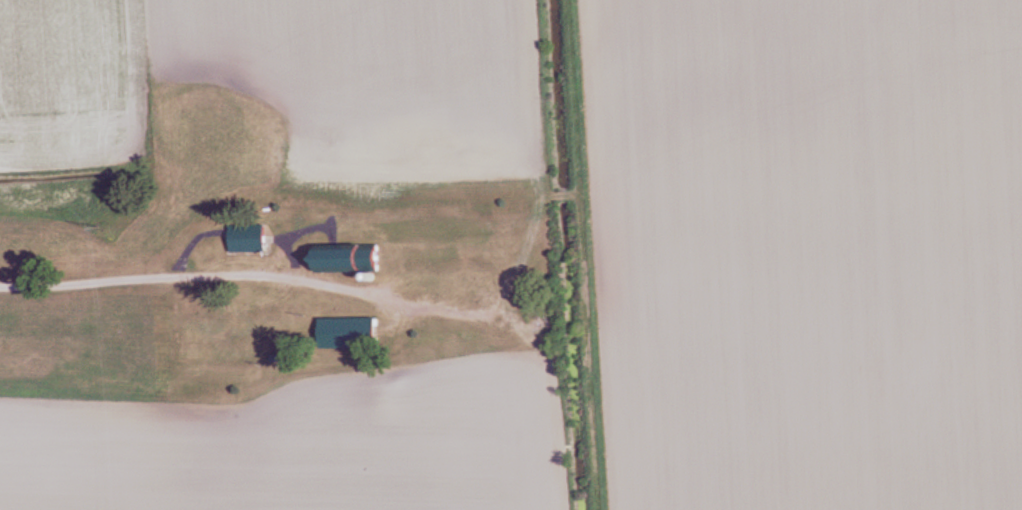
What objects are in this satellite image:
building: (255, 239)
building: (359, 259)
road: (131, 276)
building: (356, 333)

